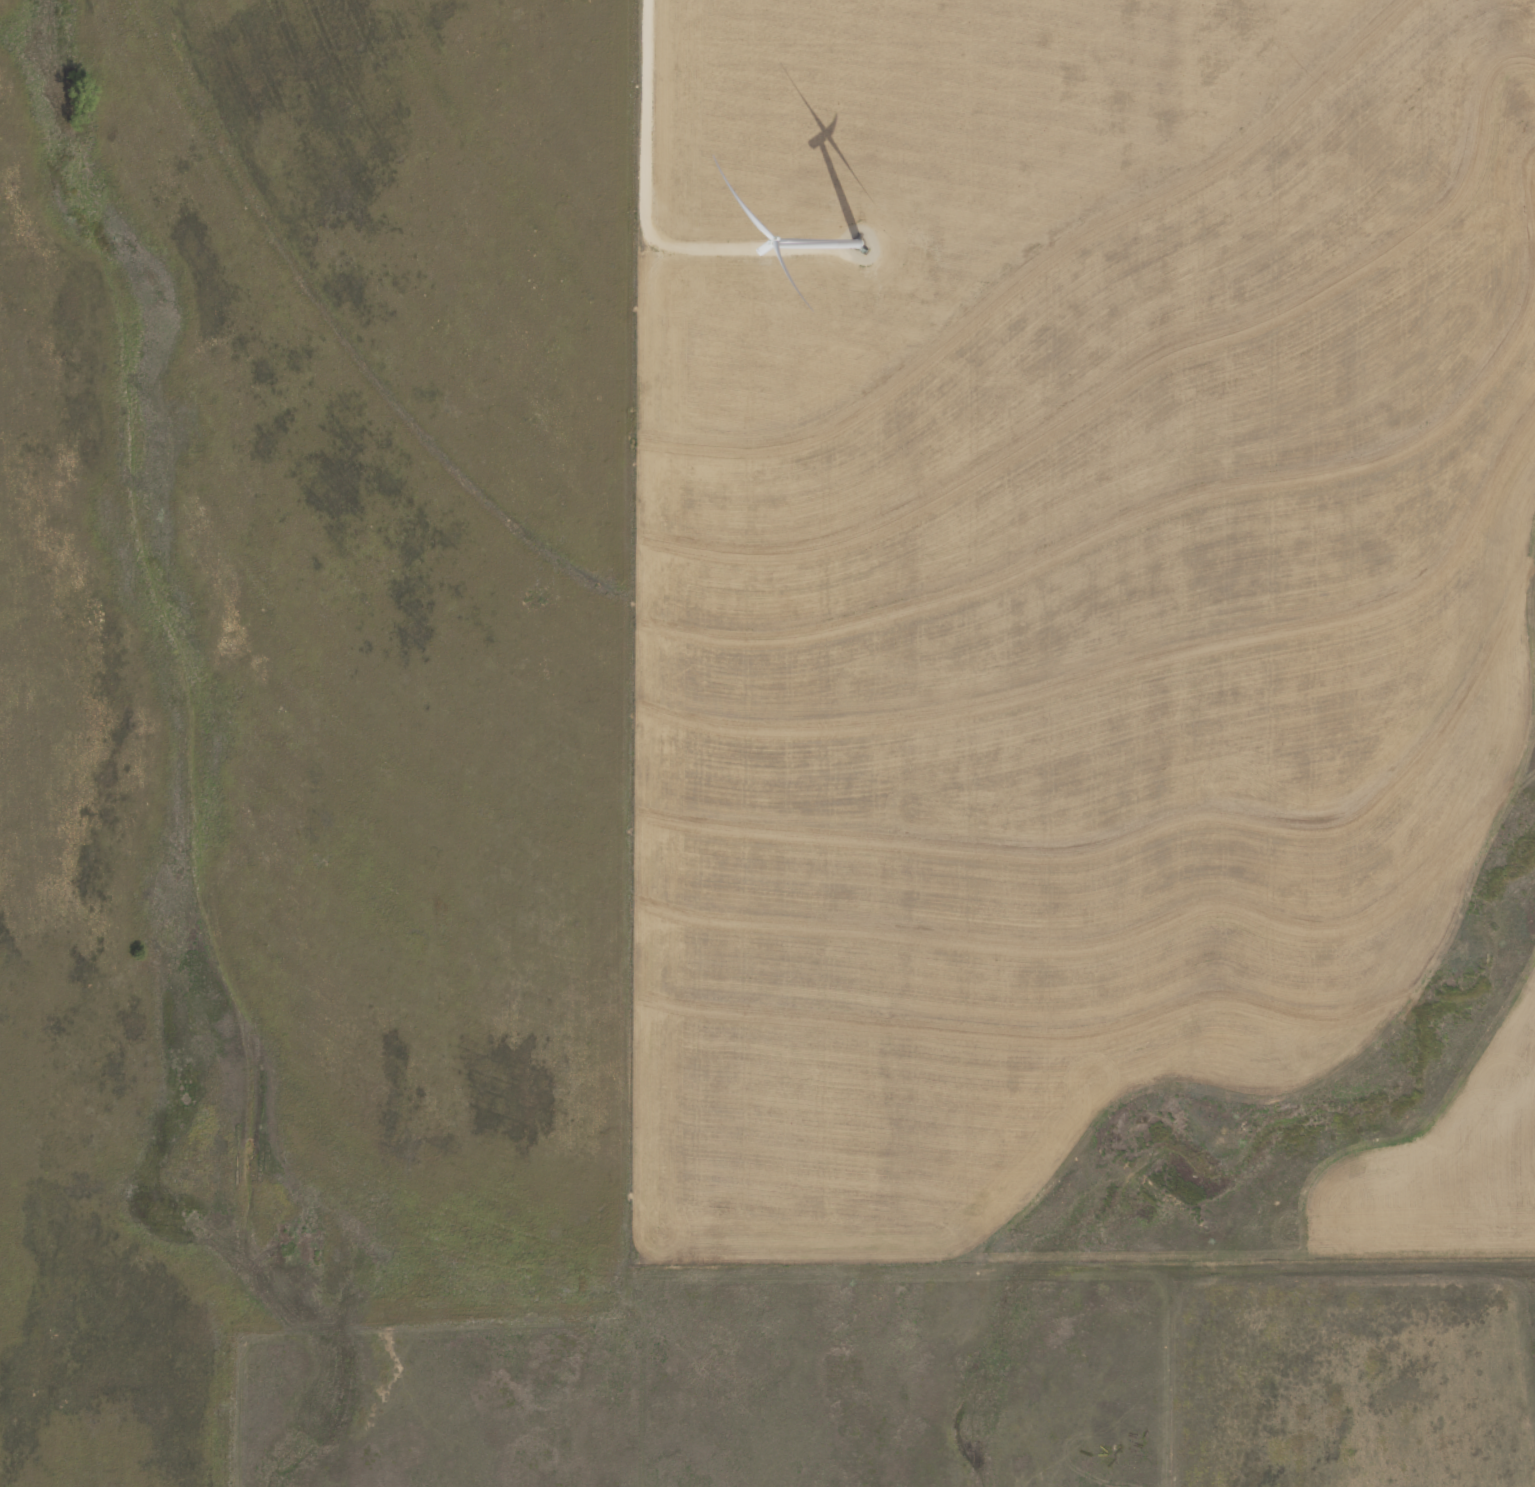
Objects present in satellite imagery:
wind turbine: (859, 243)

